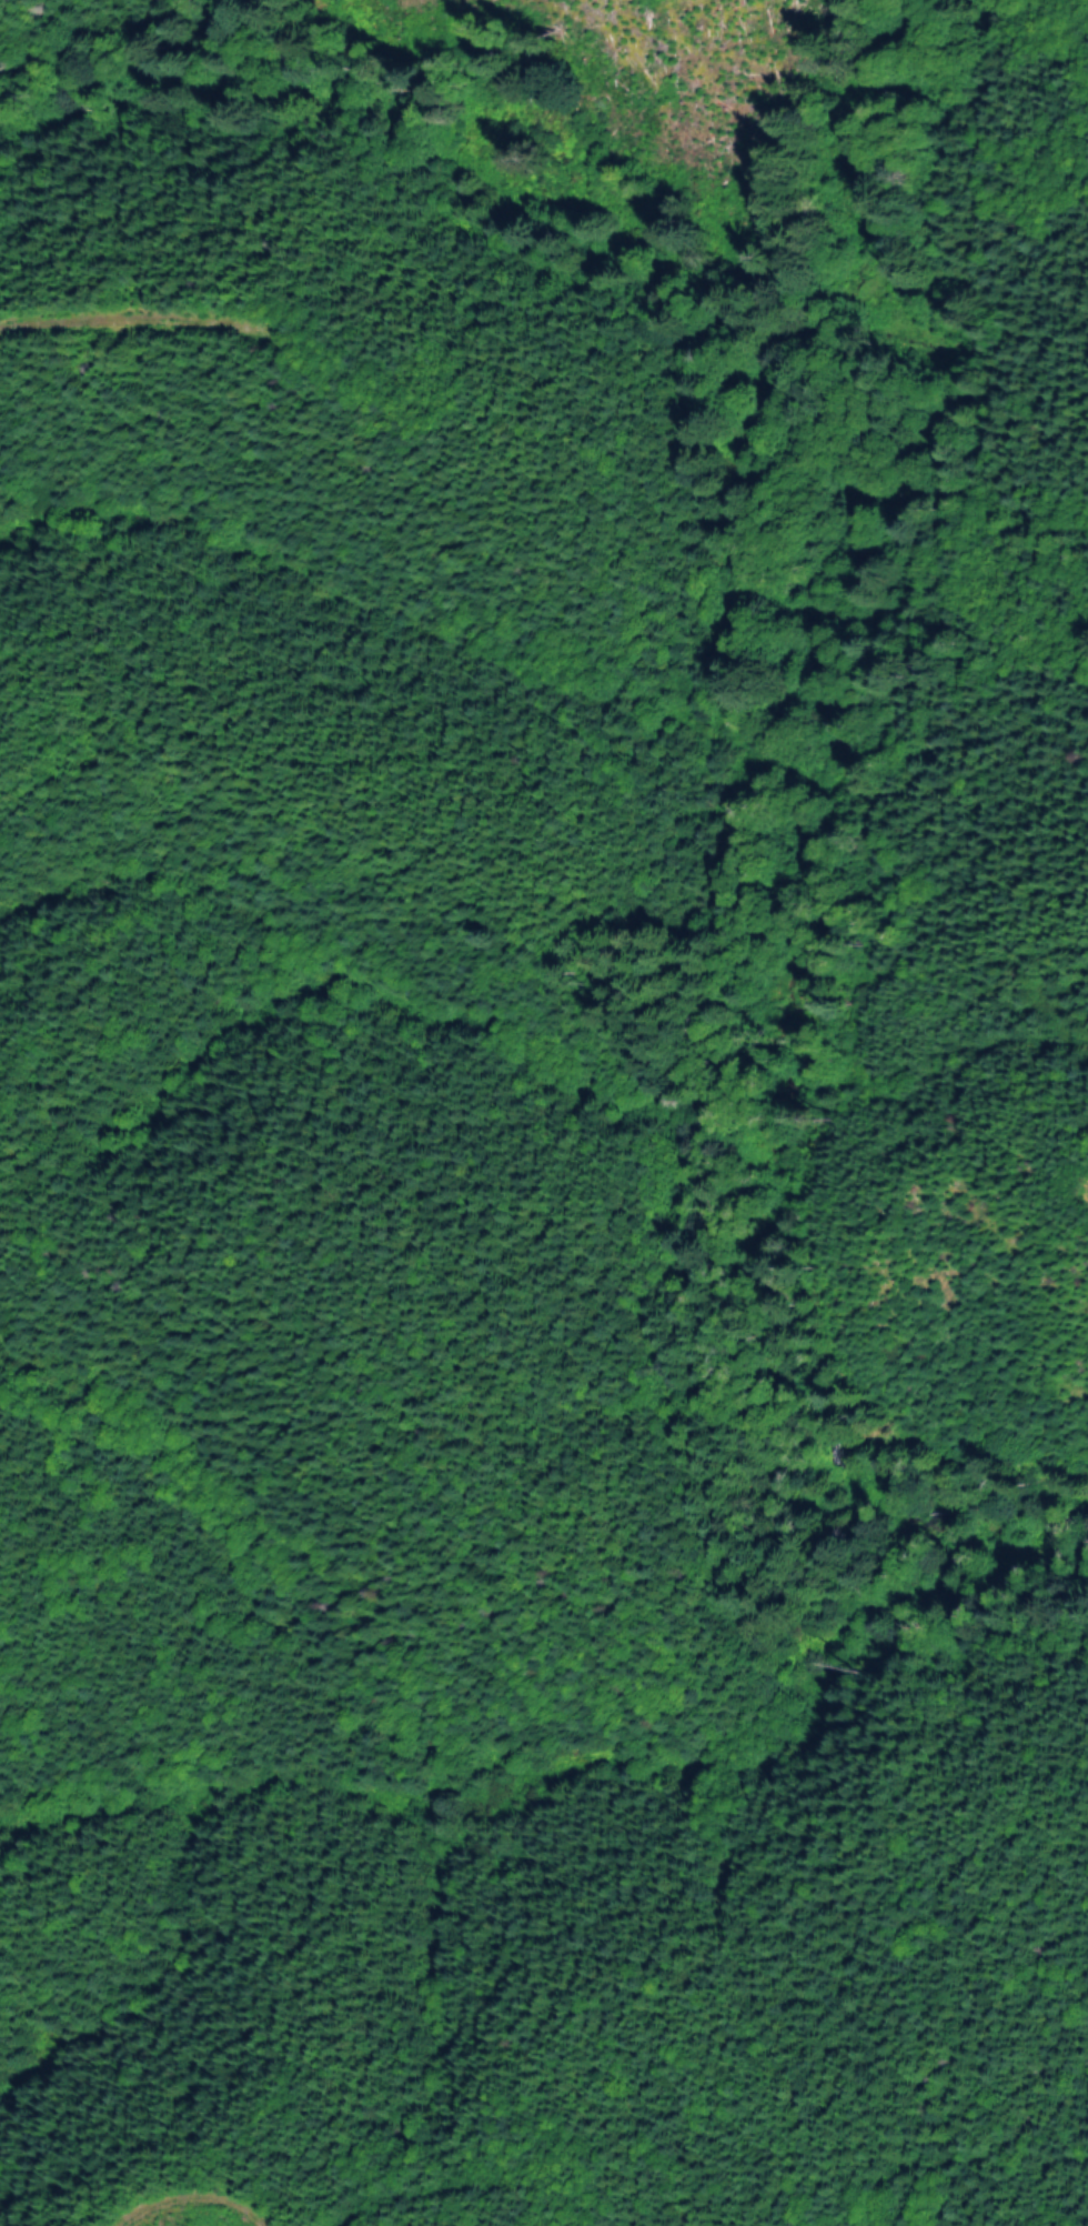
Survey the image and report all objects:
road: (230, 2162)

